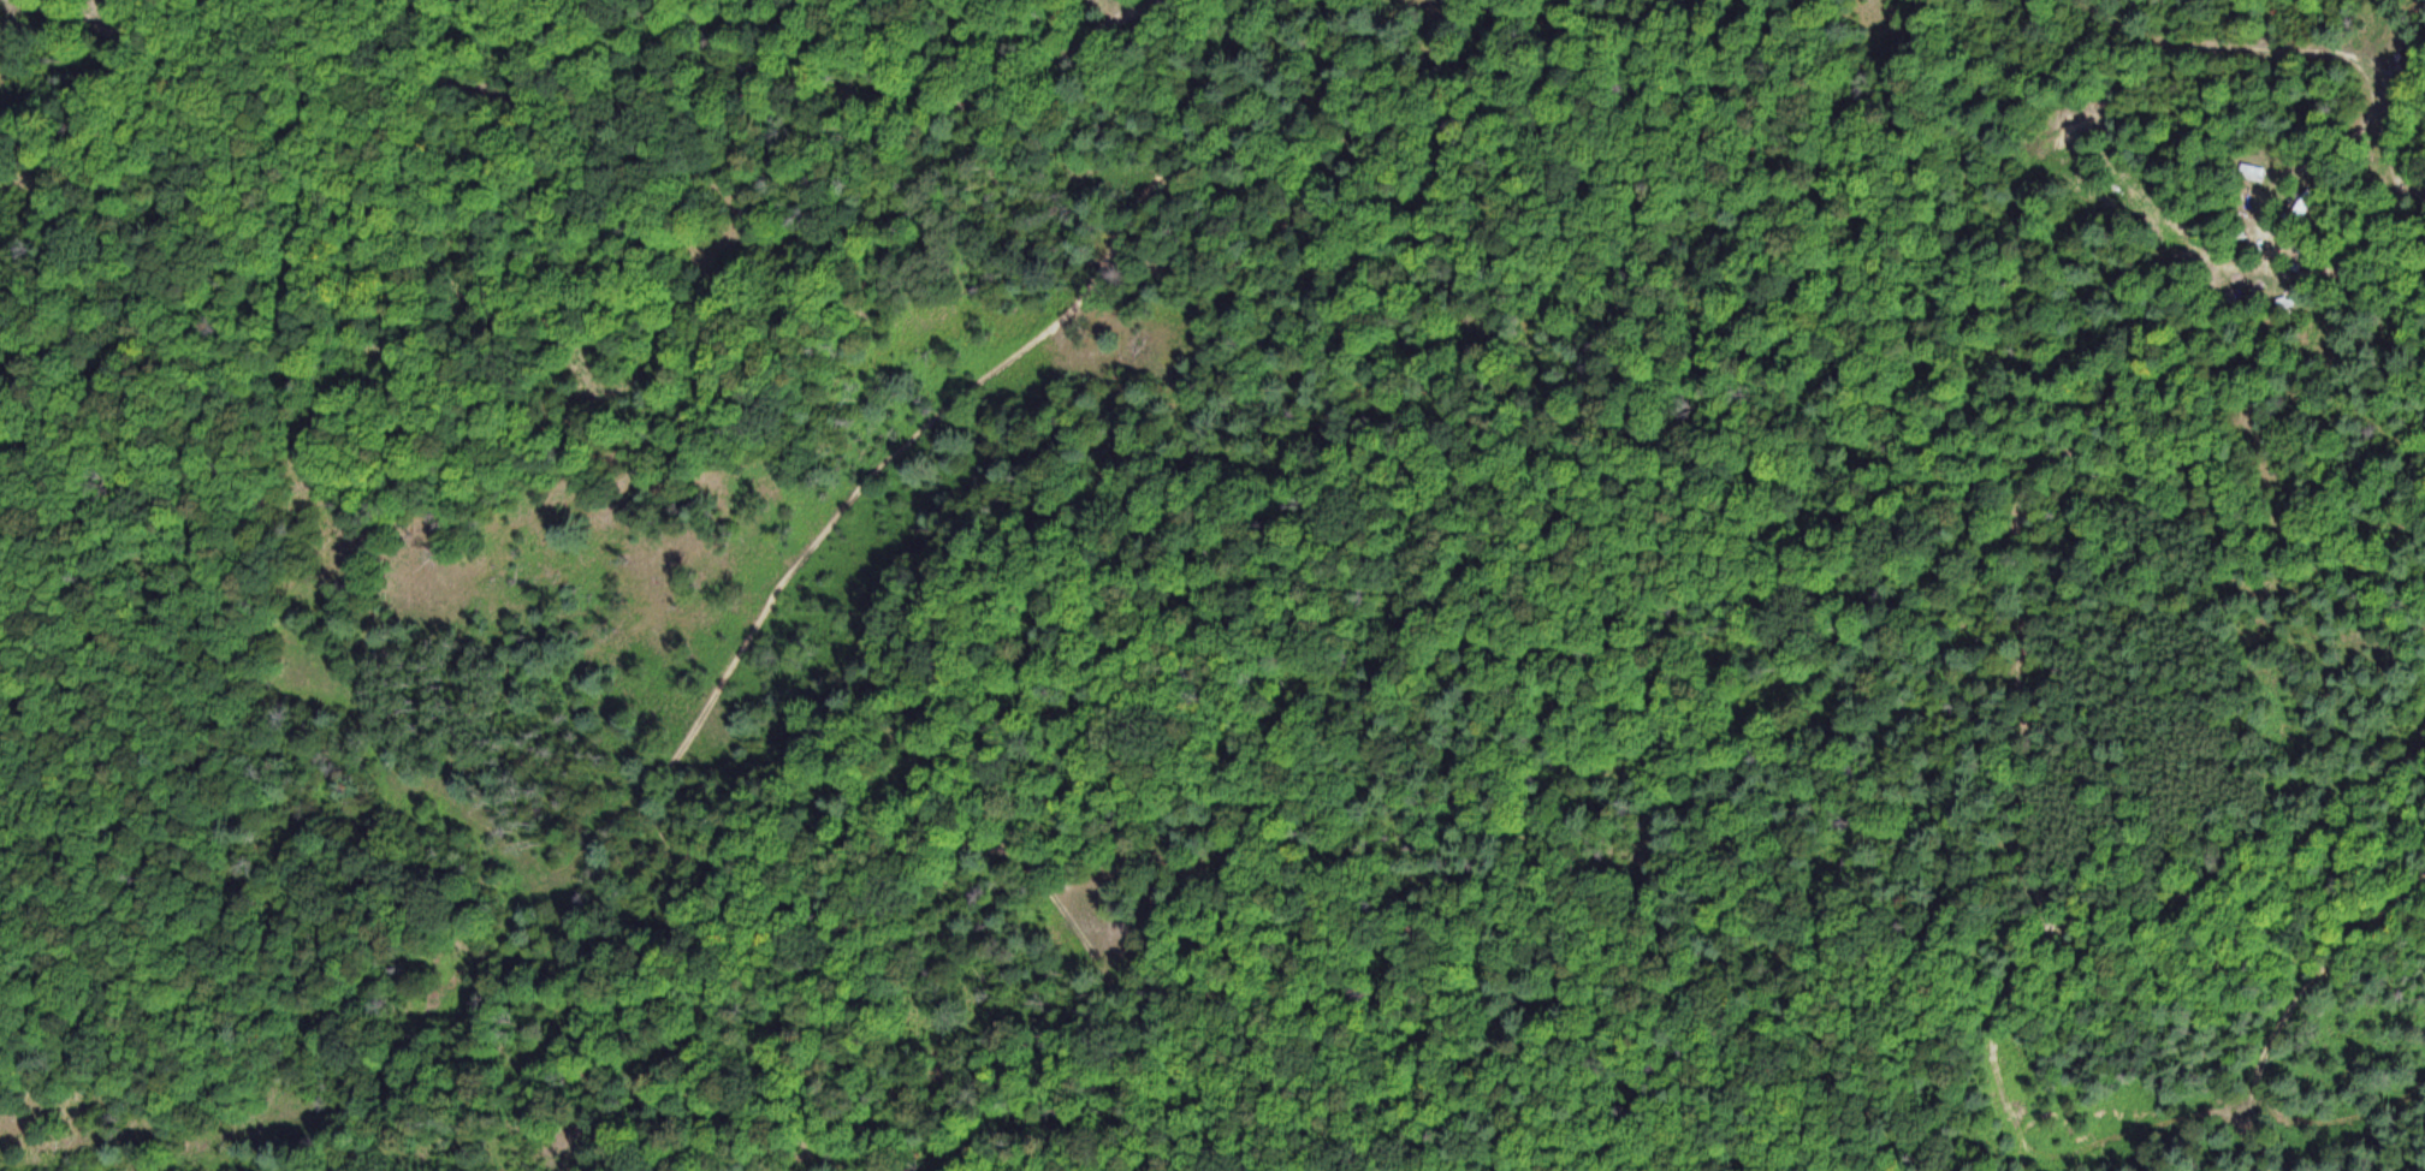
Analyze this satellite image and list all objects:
road: (2295, 49)
road: (580, 118)
road: (2265, 239)
road: (1513, 581)
road: (717, 686)
road: (2289, 1004)

